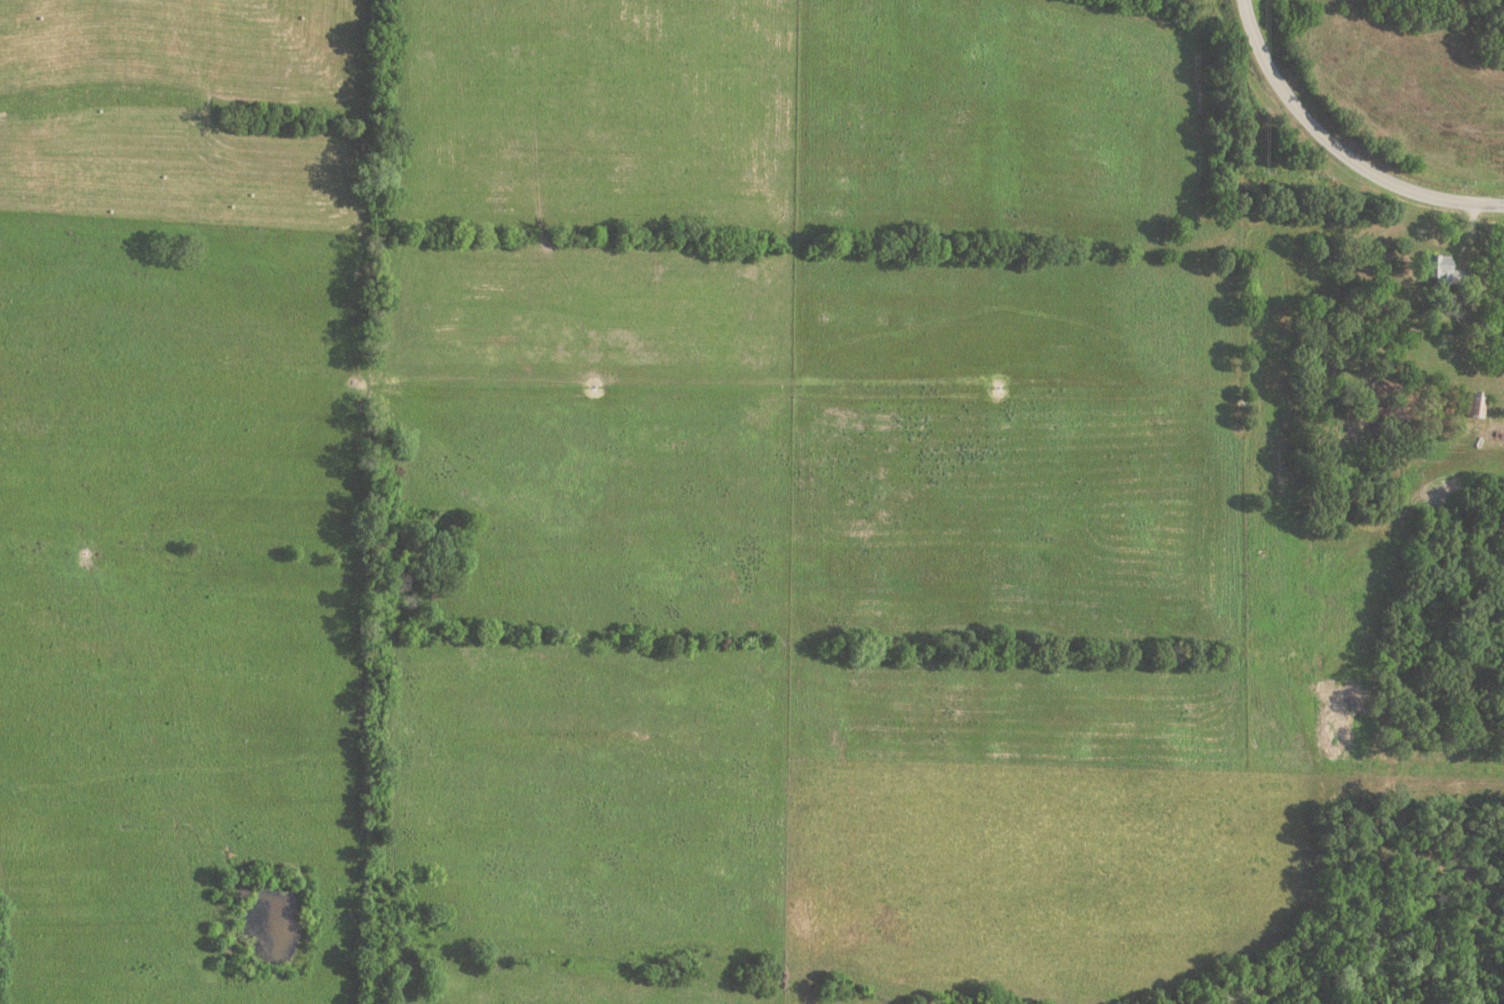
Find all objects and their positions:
road: (1339, 144)
building: (1439, 266)
building: (1474, 404)

